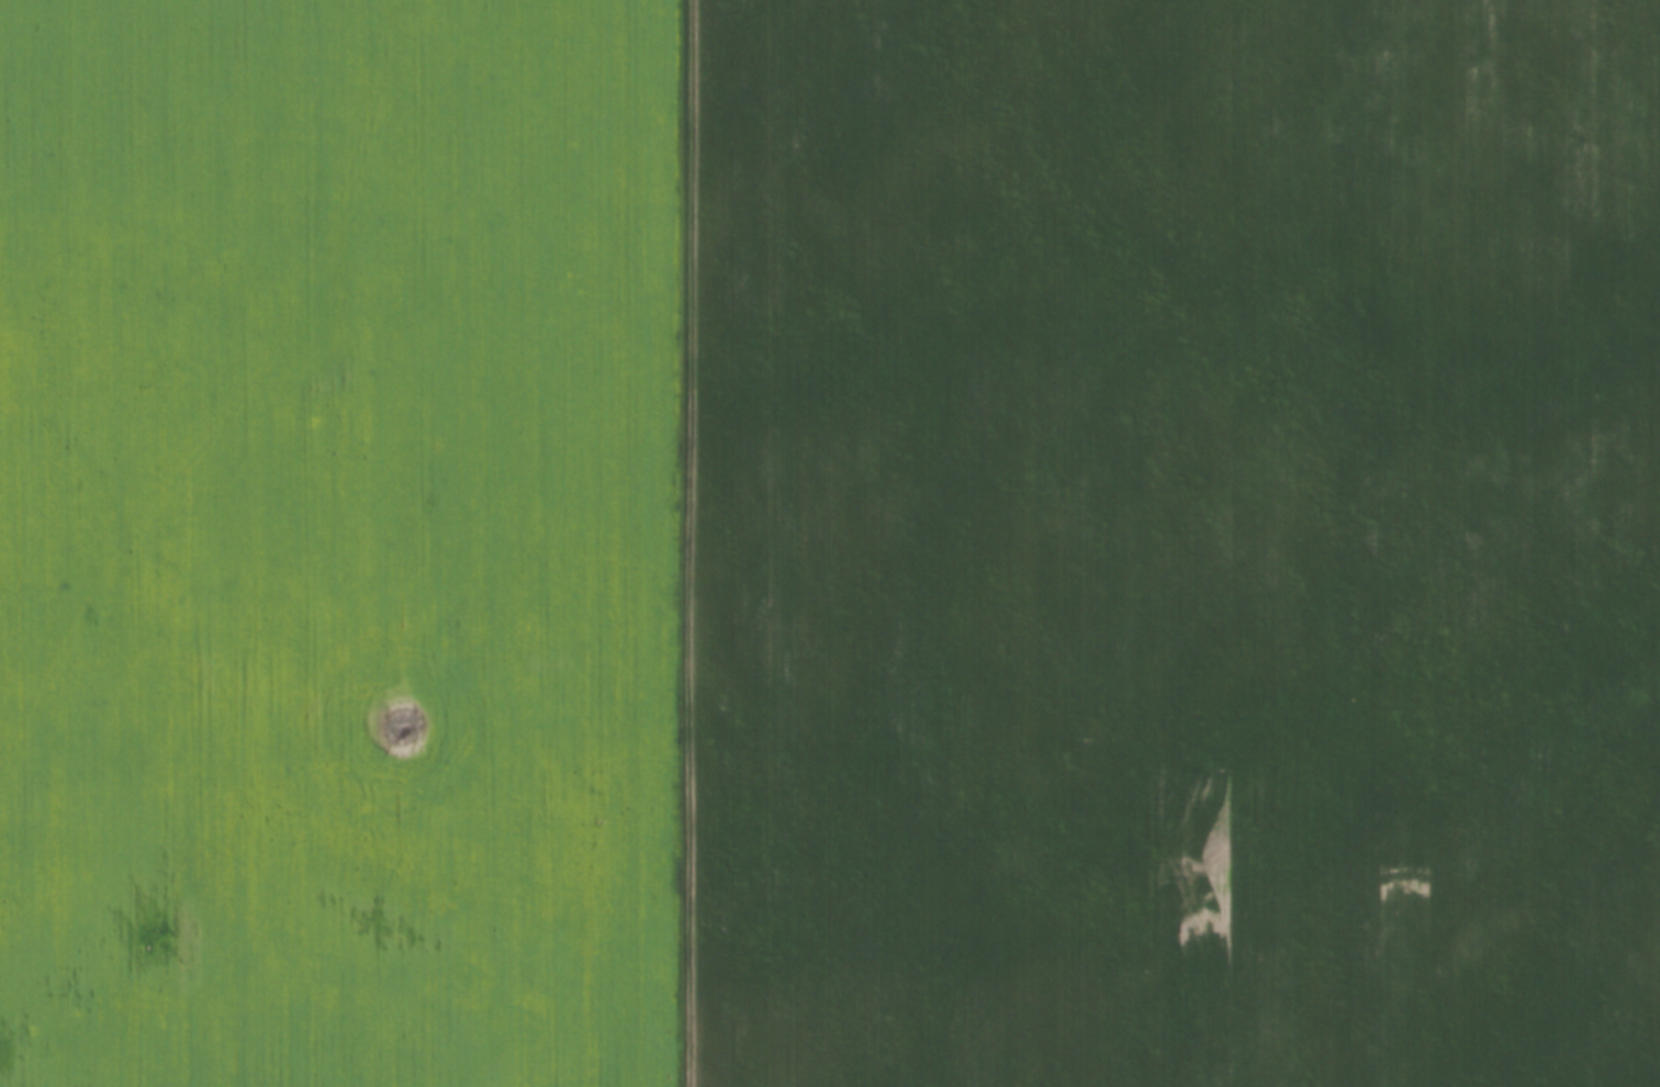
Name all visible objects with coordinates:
road: (680, 543)

